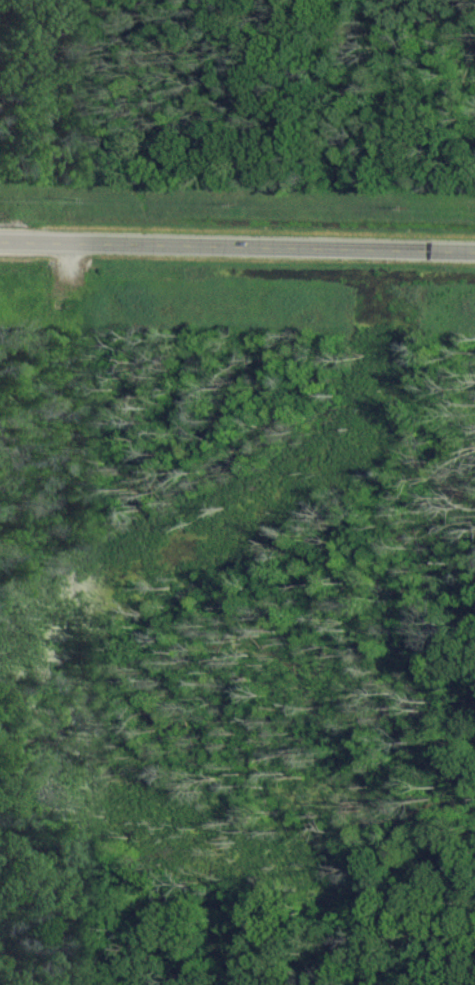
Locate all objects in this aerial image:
road: (237, 243)

